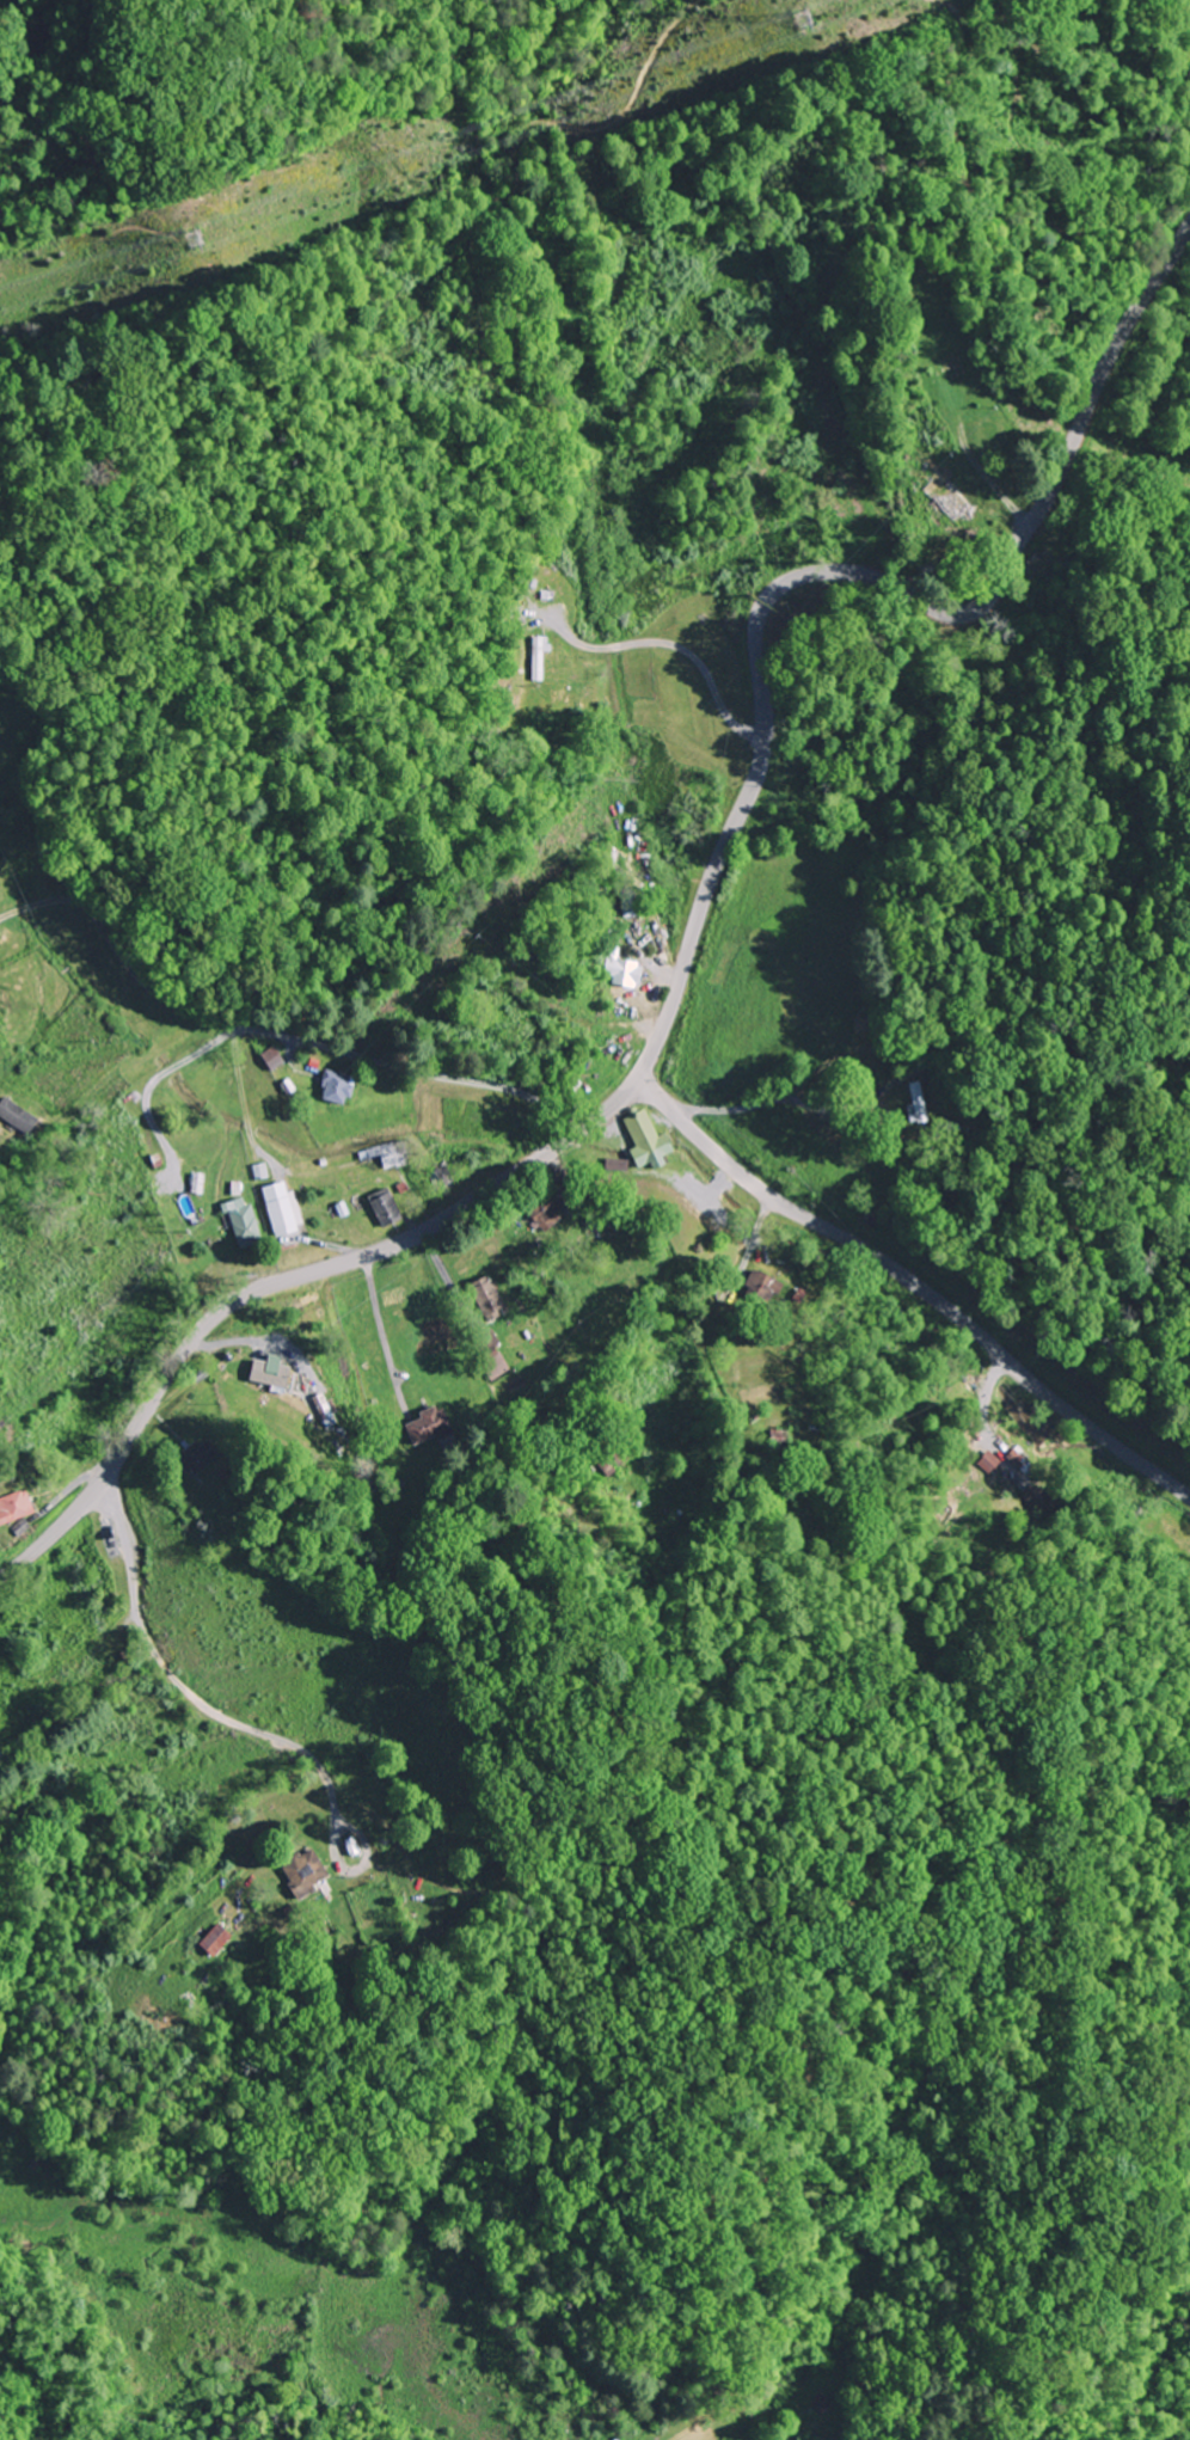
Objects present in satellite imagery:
power tower: (798, 18)
road: (962, 39)
road: (1030, 223)
power tower: (214, 239)
building: (936, 370)
building: (945, 499)
building: (542, 656)
road: (43, 902)
road: (698, 918)
road: (577, 1020)
road: (240, 1028)
building: (342, 1085)
building: (916, 1101)
building: (644, 1138)
building: (440, 1177)
building: (278, 1207)
building: (382, 1207)
building: (241, 1220)
road: (914, 1283)
building: (481, 1298)
road: (385, 1336)
building: (266, 1372)
building: (988, 1460)
building: (20, 1508)
building: (87, 1669)
road: (190, 1697)
road: (75, 1708)
building: (209, 1939)

